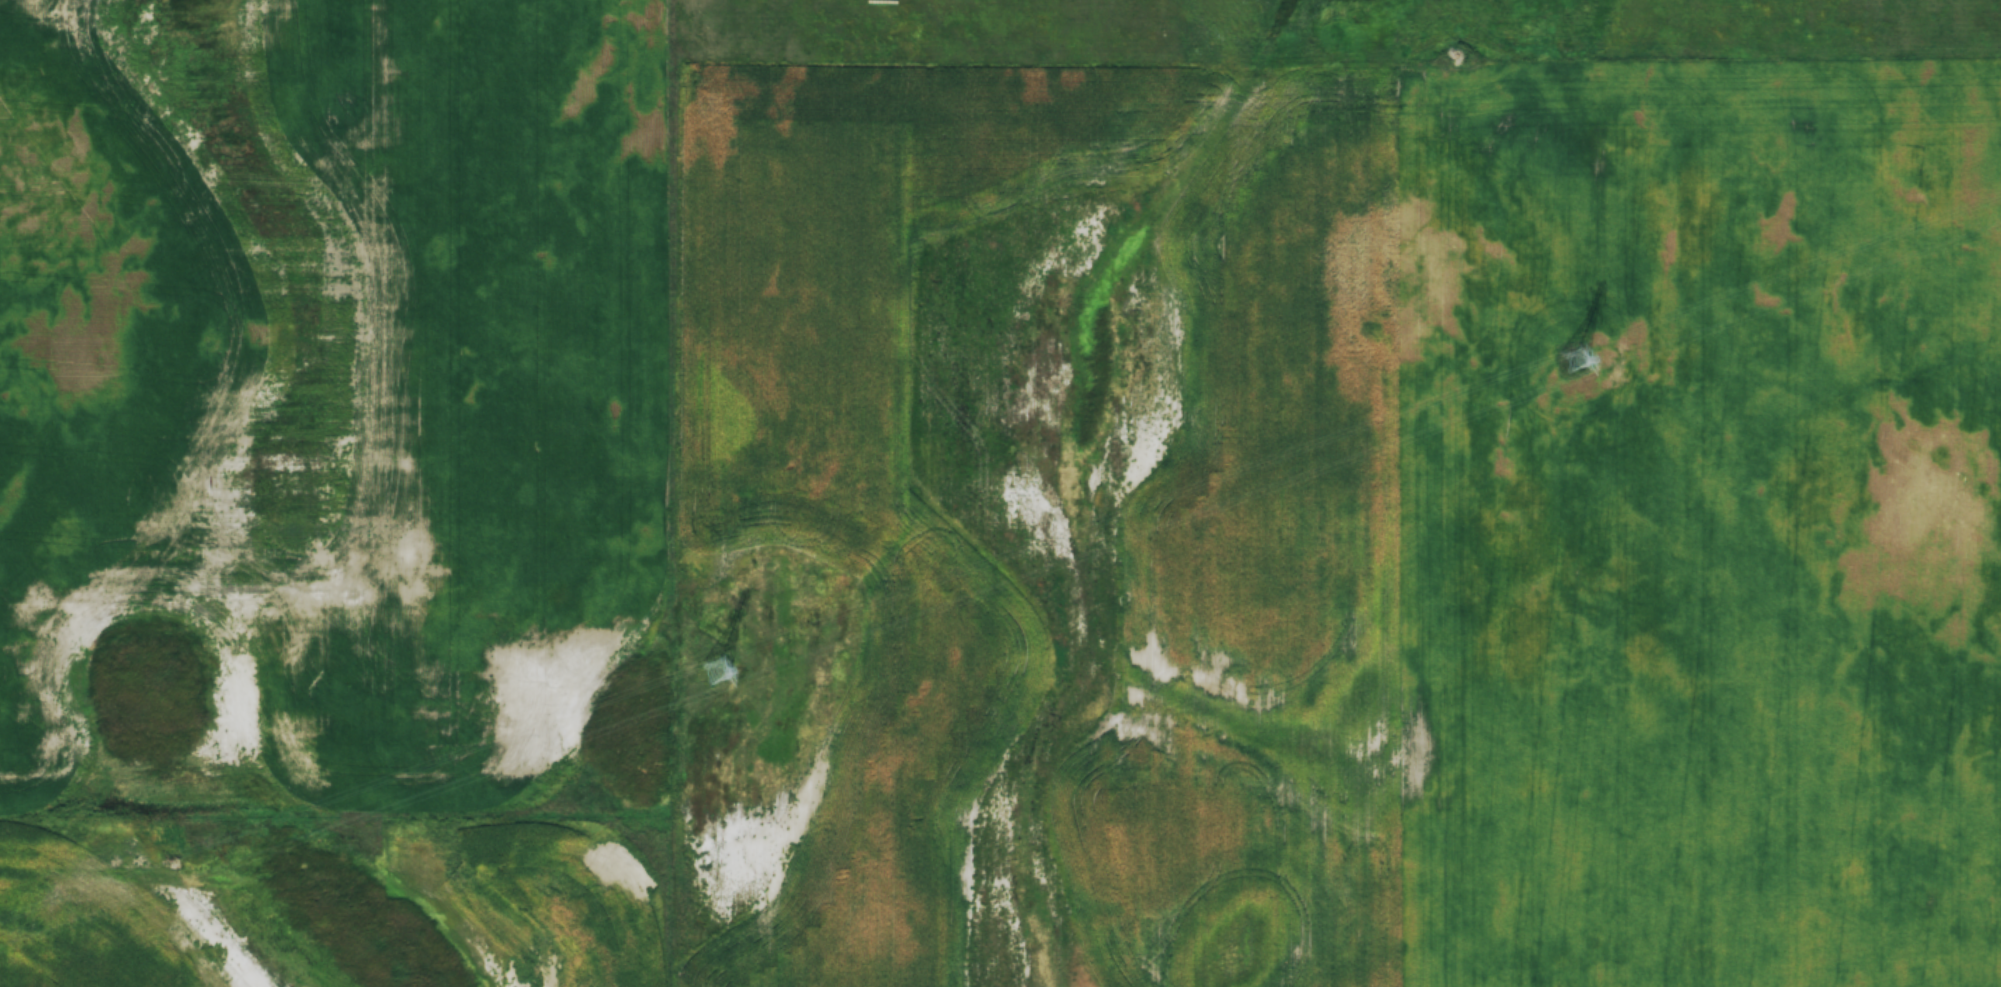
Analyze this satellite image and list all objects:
power tower: (1577, 357)
power tower: (719, 670)

